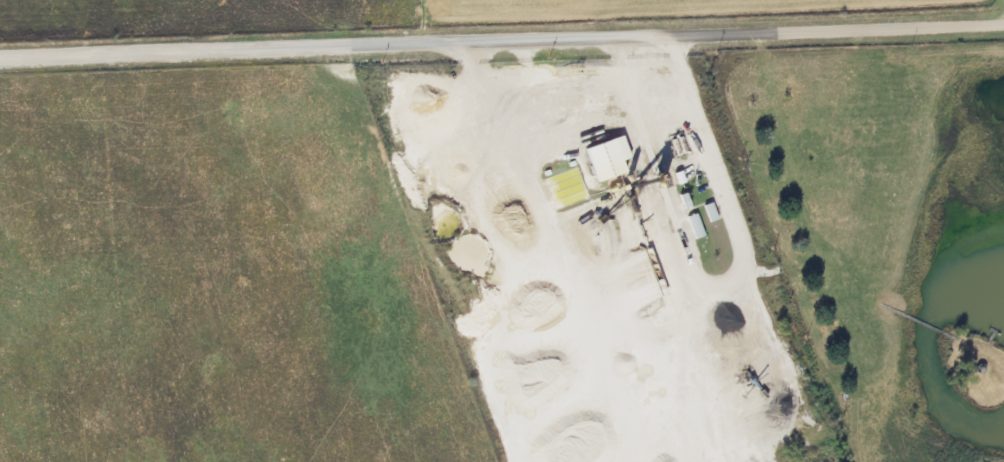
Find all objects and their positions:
road: (1002, 9)
road: (501, 34)
building: (602, 159)
building: (692, 225)

